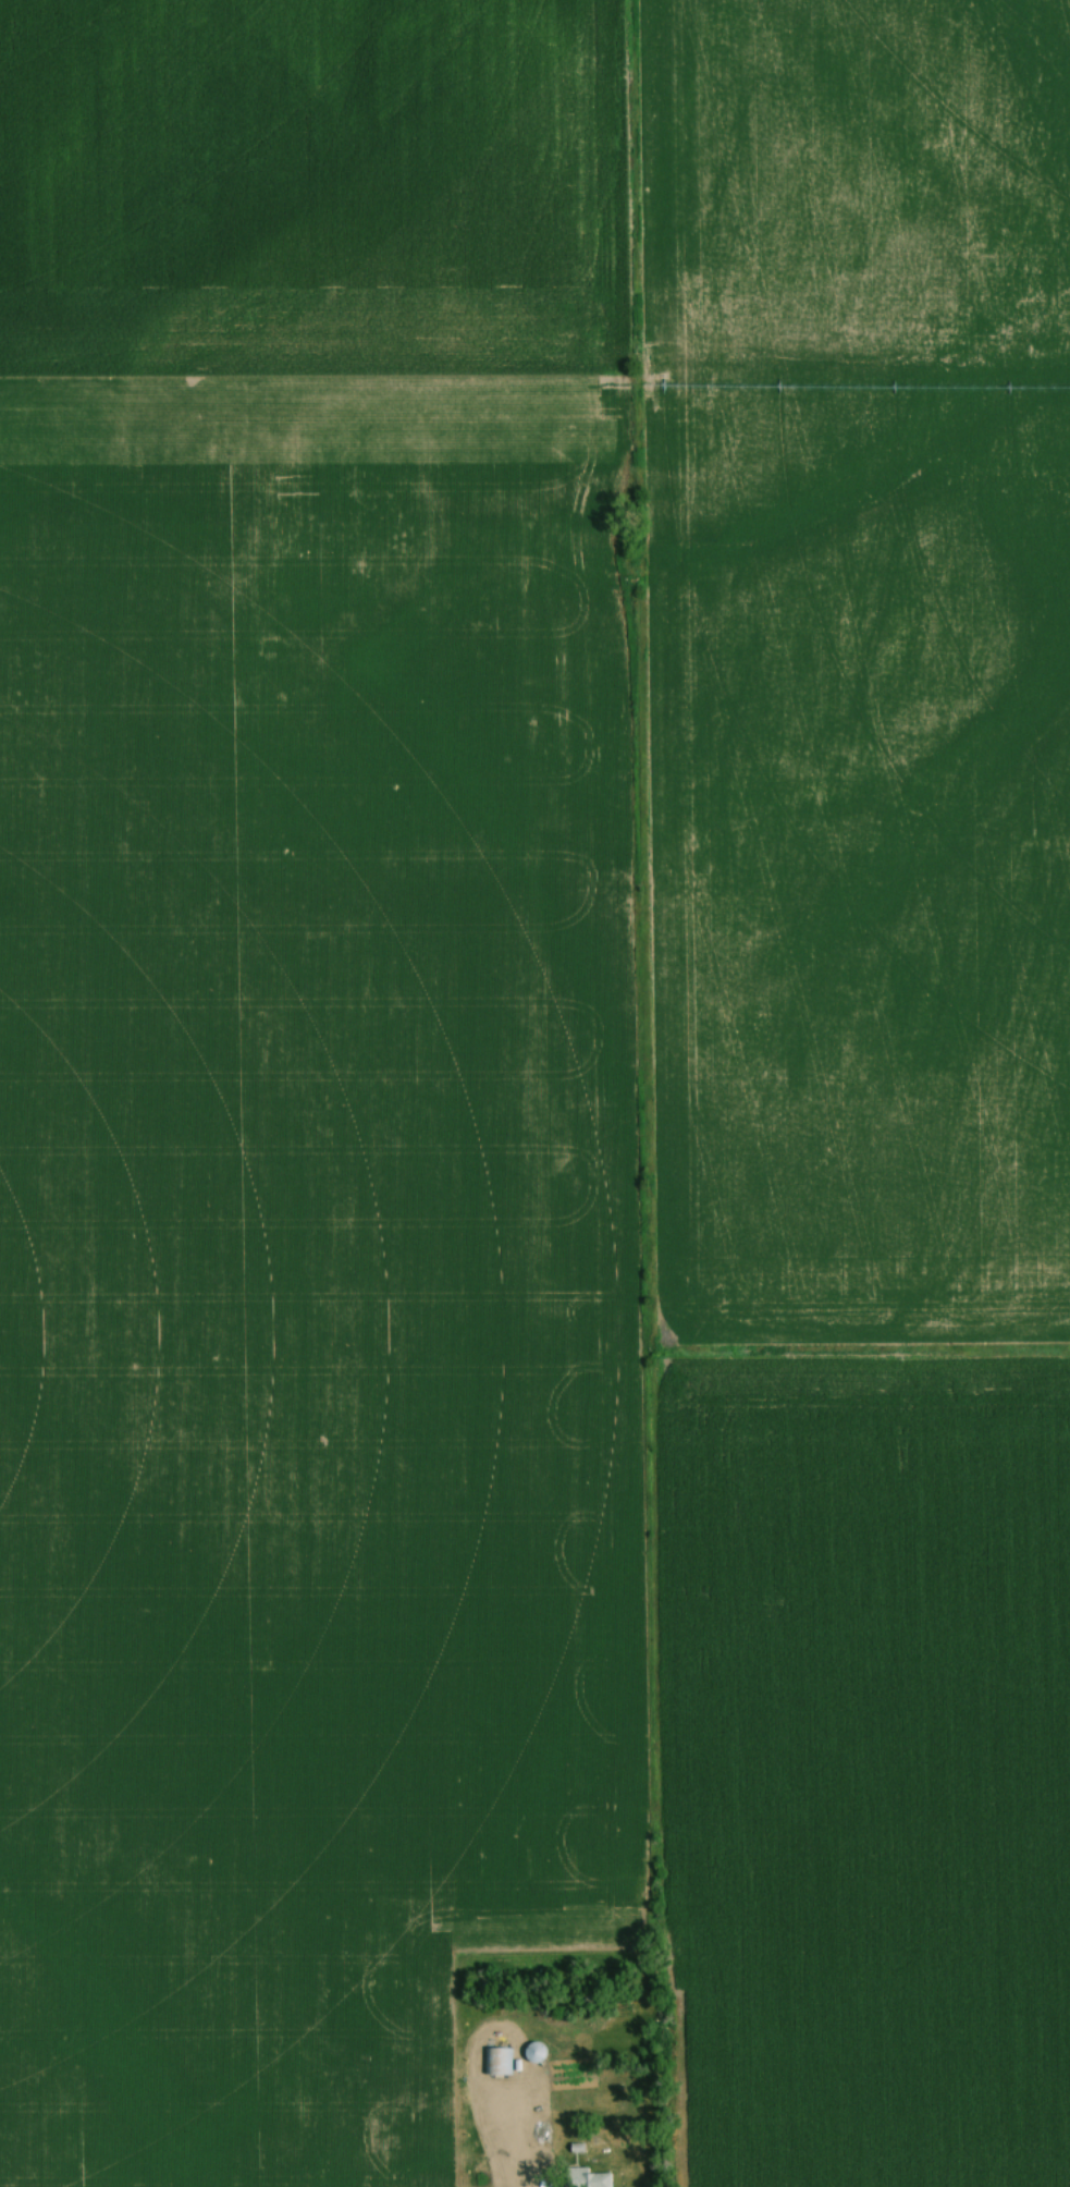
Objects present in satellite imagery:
building: (531, 2052)
building: (495, 2061)
building: (583, 2177)

